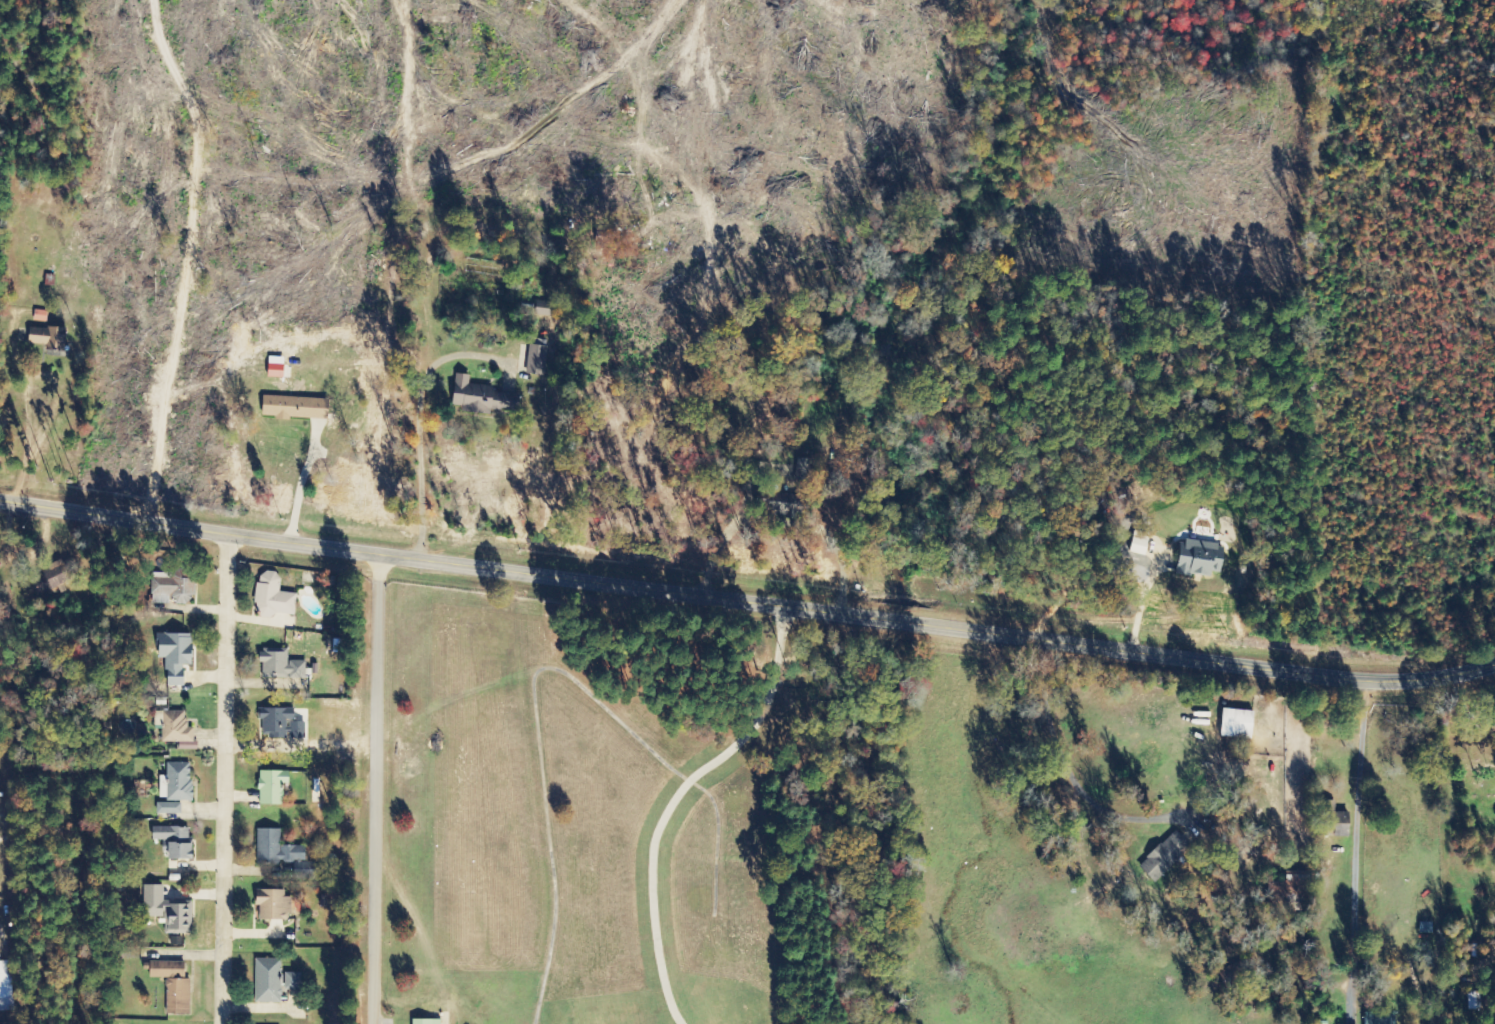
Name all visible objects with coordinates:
building: (47, 338)
building: (537, 360)
building: (276, 371)
building: (484, 398)
building: (296, 408)
building: (807, 470)
building: (1200, 559)
building: (57, 577)
building: (173, 589)
building: (273, 597)
road: (746, 604)
building: (175, 656)
building: (281, 665)
building: (281, 724)
building: (1238, 724)
building: (176, 730)
road: (226, 778)
building: (272, 787)
building: (169, 808)
building: (1339, 824)
building: (175, 841)
building: (283, 854)
building: (1165, 857)
building: (274, 906)
building: (167, 910)
building: (268, 981)
building: (293, 982)
building: (174, 986)
building: (6, 988)
building: (1380, 1021)
building: (426, 1022)

